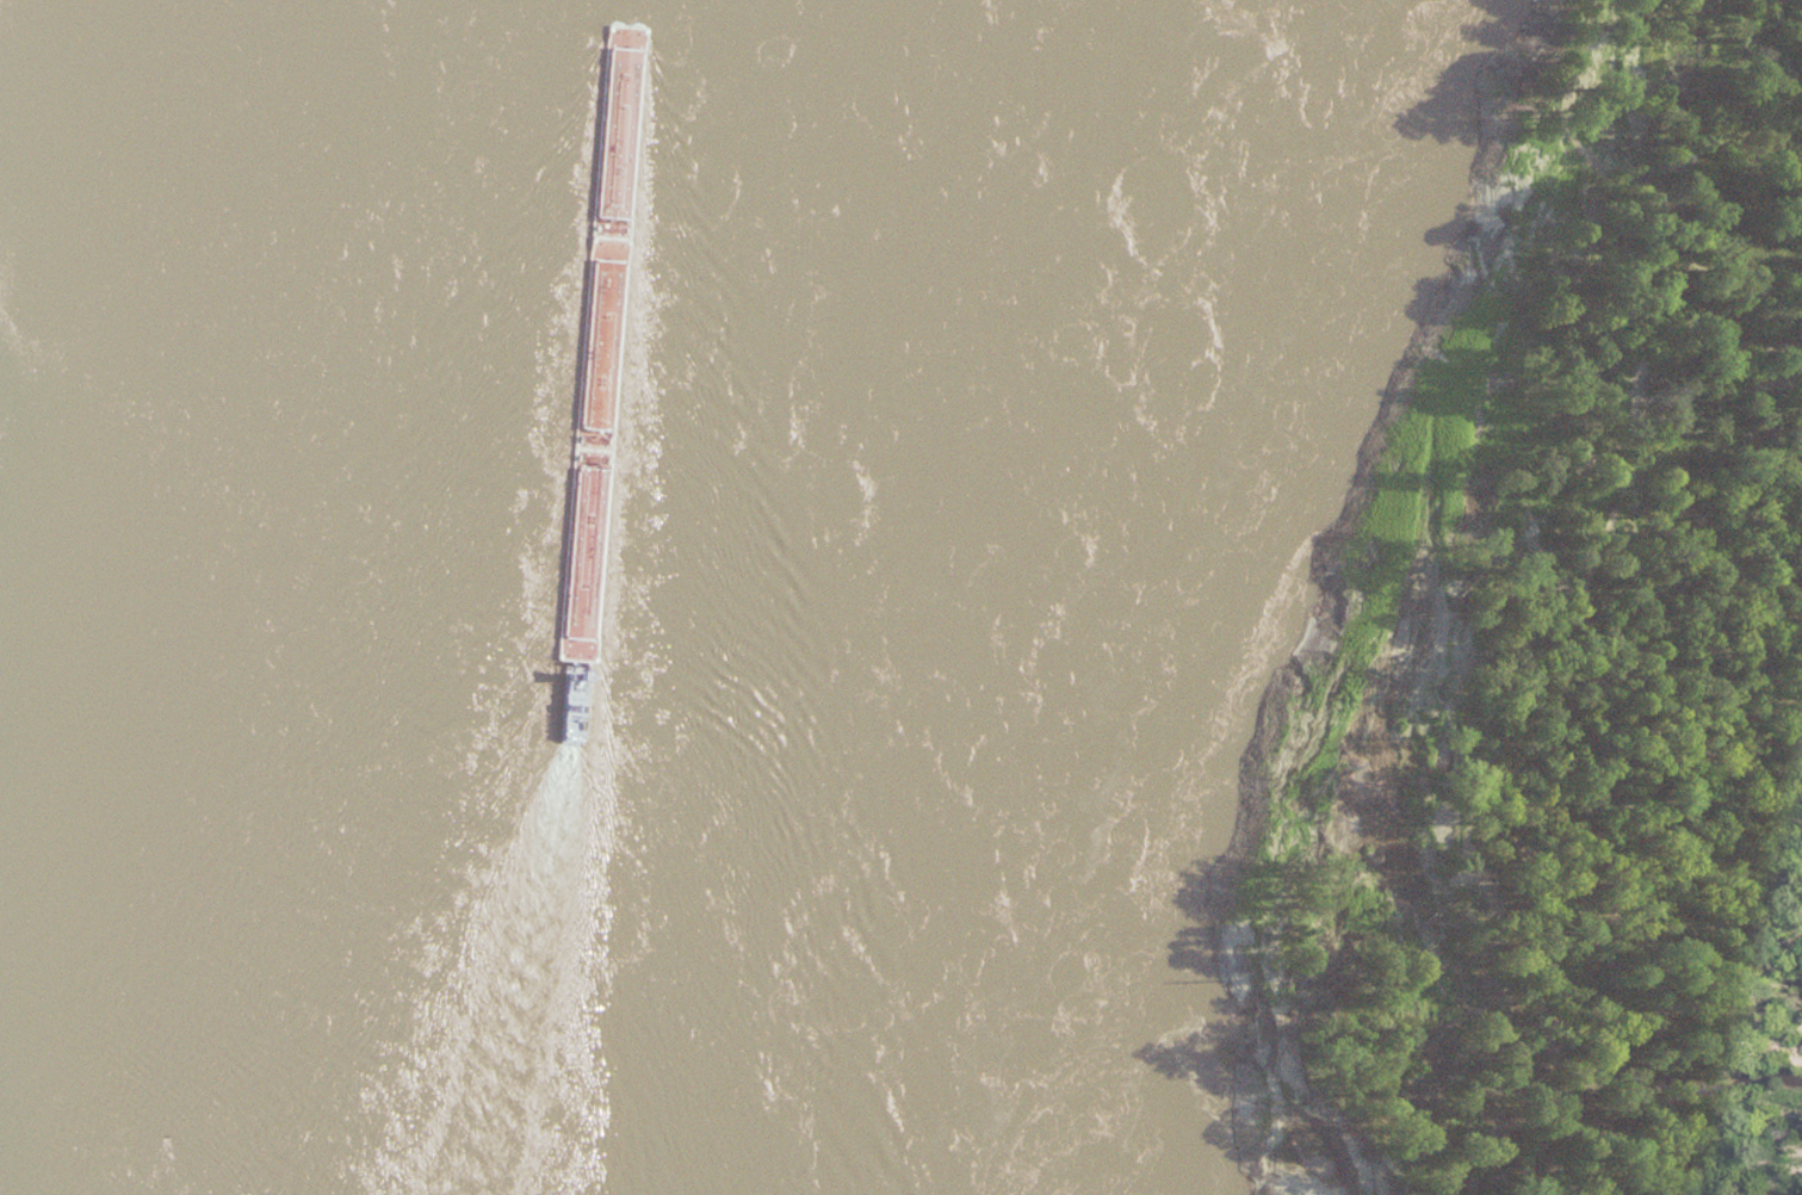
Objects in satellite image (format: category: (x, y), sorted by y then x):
river: (12, 786)

